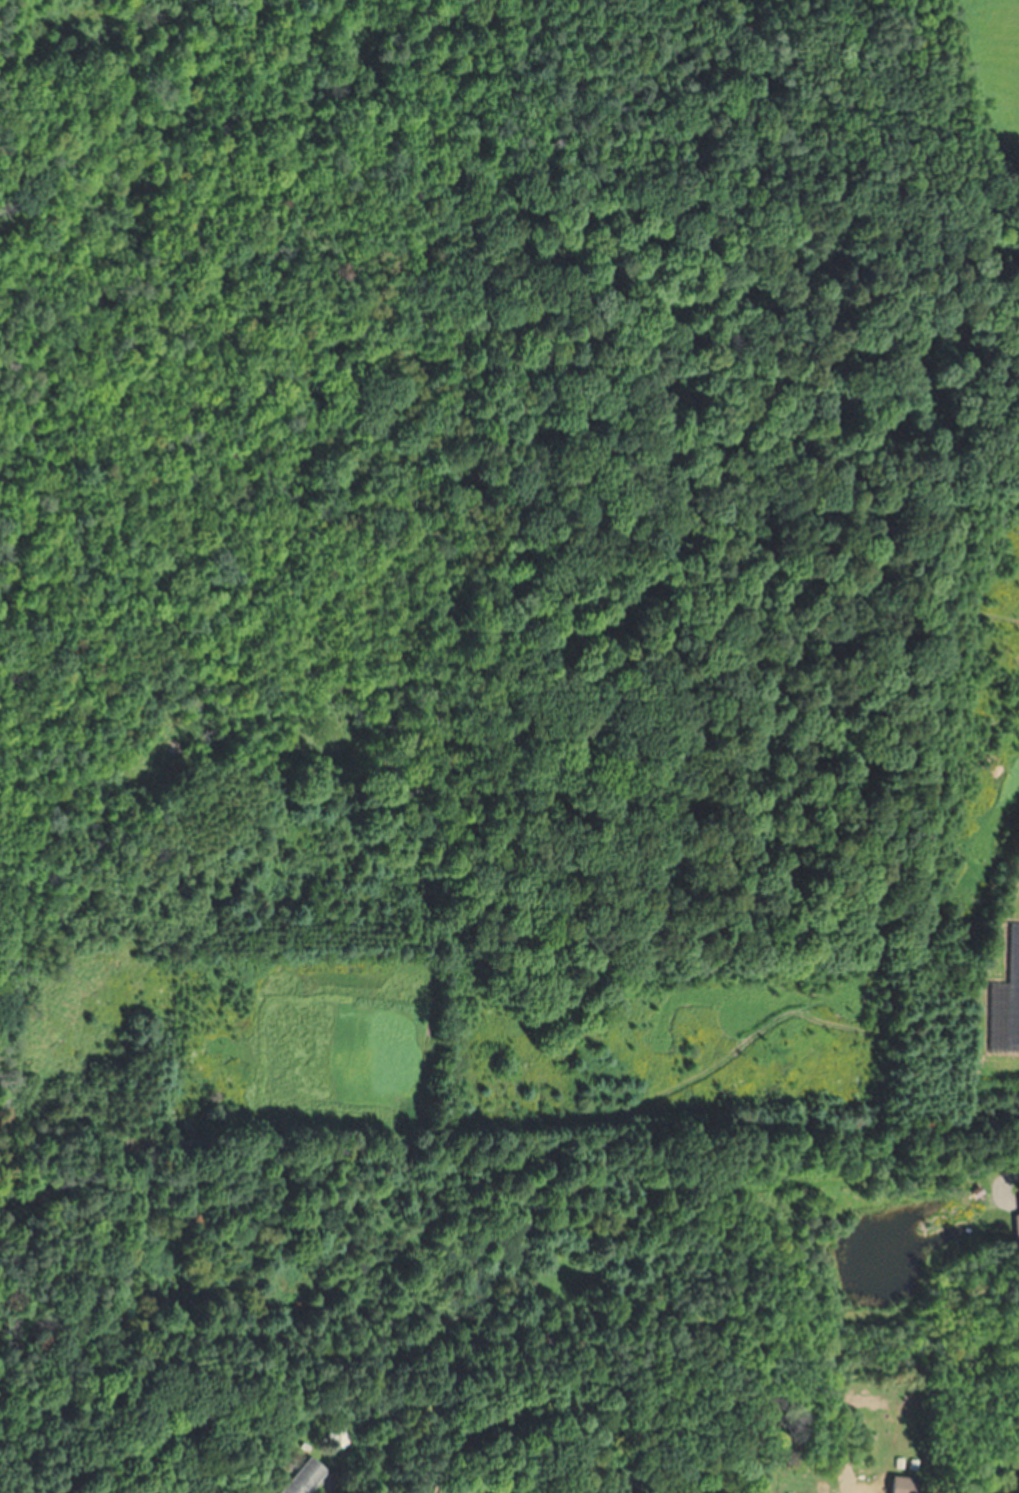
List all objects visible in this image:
crop: (987, 66)
crop: (996, 1001)
road: (1003, 1187)
building: (1016, 1219)
building: (306, 1477)
building: (898, 1485)

